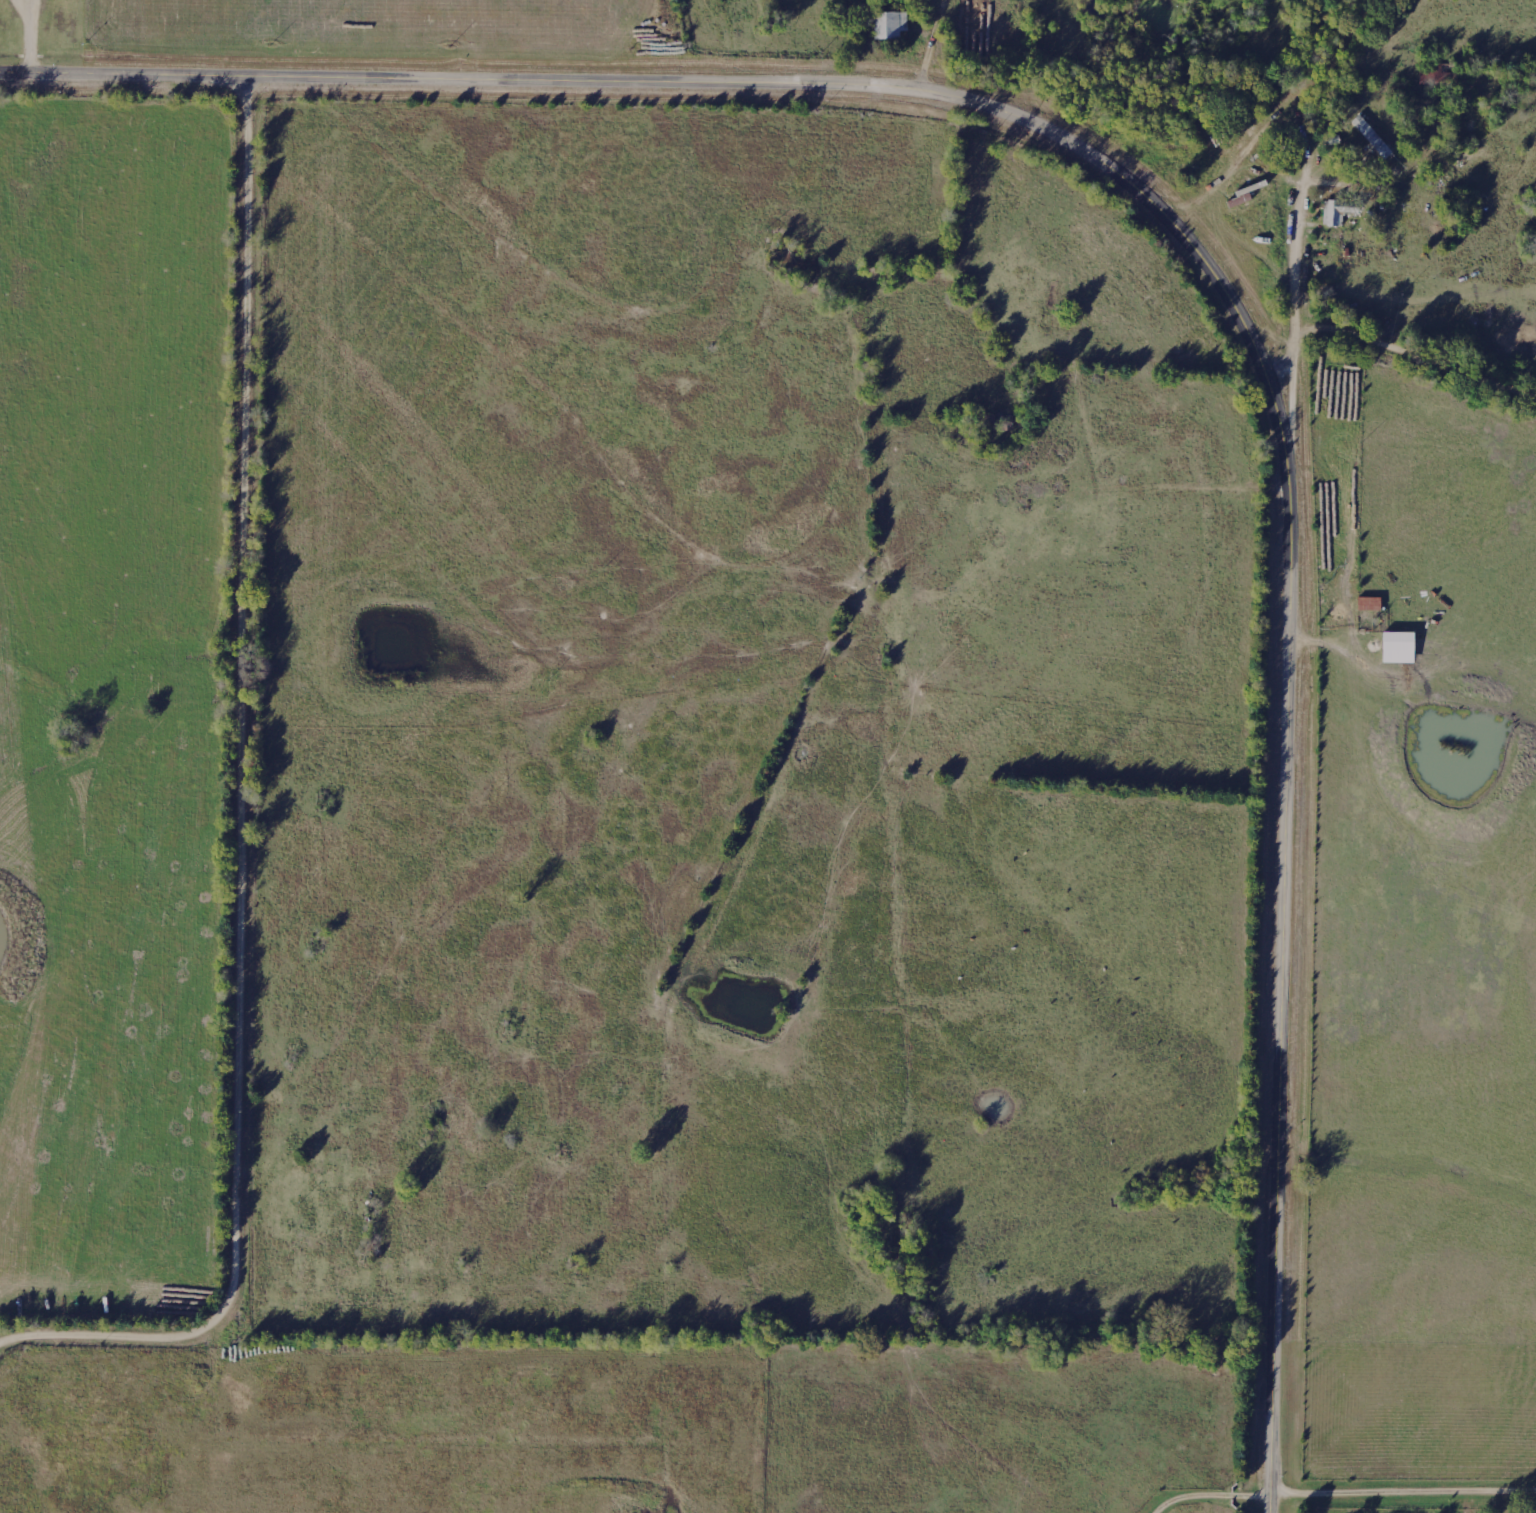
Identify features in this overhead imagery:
building: (890, 25)
road: (1324, 44)
building: (1372, 139)
road: (1309, 149)
building: (1338, 213)
road: (1214, 258)
road: (1396, 350)
building: (1399, 647)
road: (248, 815)
road: (1404, 1491)

